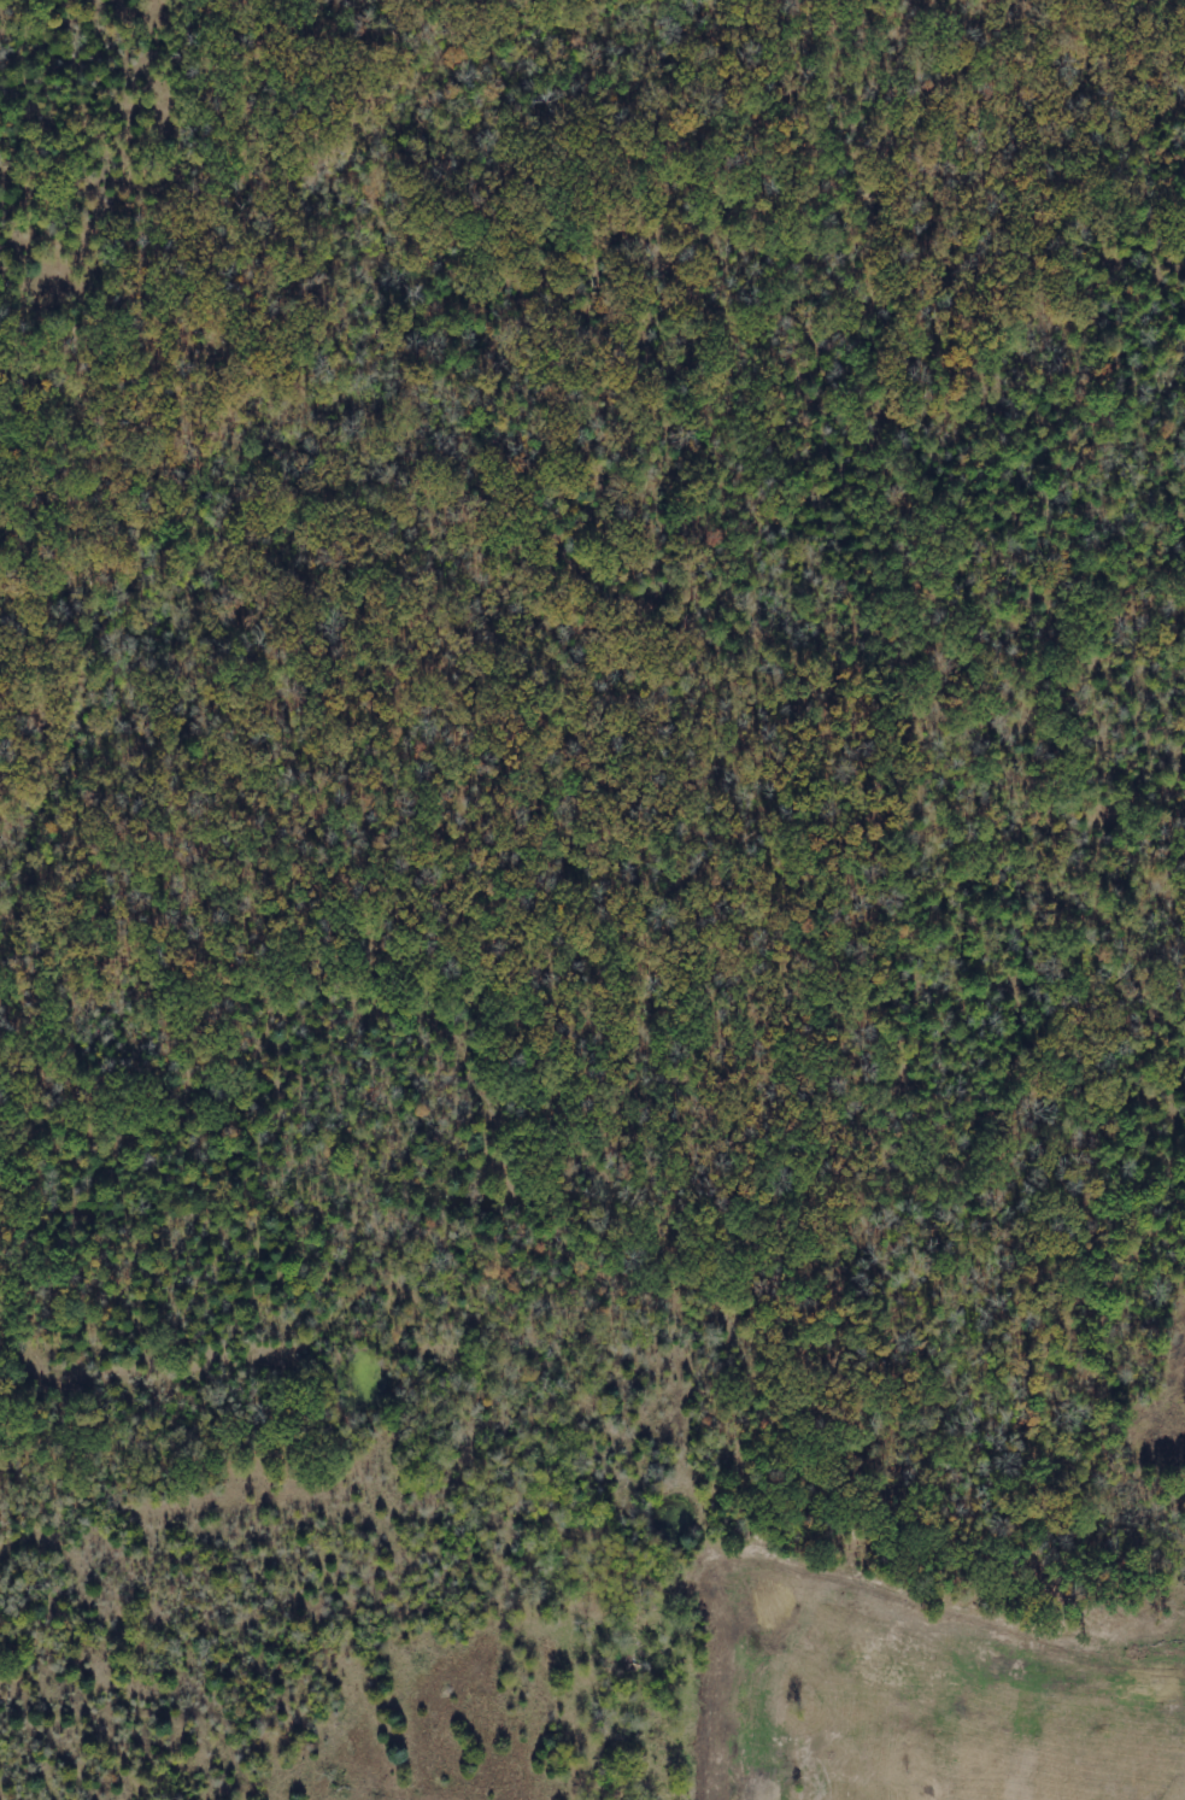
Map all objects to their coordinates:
road: (710, 1687)

